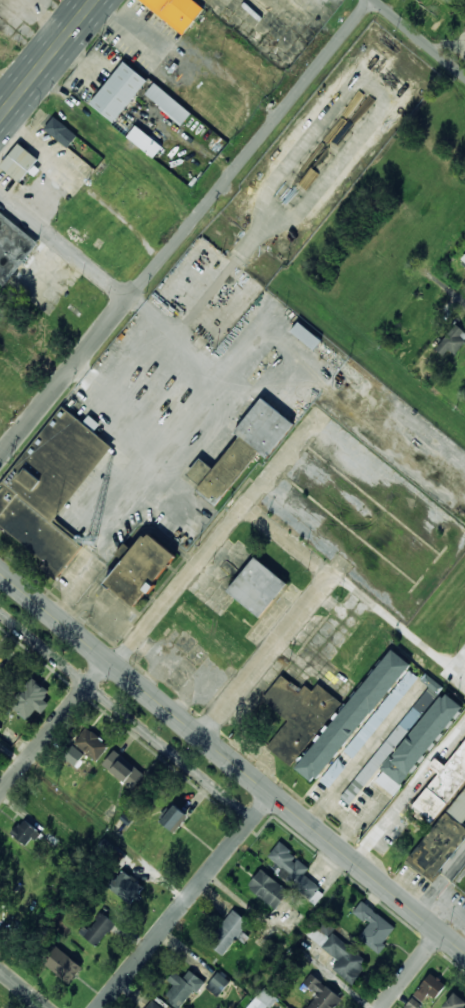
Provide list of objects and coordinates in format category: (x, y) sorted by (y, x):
building: (176, 11)
building: (464, 29)
road: (420, 37)
road: (47, 59)
building: (118, 91)
building: (168, 103)
building: (60, 132)
building: (144, 141)
building: (18, 162)
road: (185, 228)
road: (64, 246)
building: (13, 248)
building: (463, 260)
road: (452, 294)
building: (306, 335)
building: (452, 341)
building: (243, 450)
building: (51, 487)
road: (288, 540)
building: (139, 569)
building: (257, 587)
road: (121, 648)
road: (267, 656)
building: (0, 660)
building: (31, 700)
road: (125, 717)
building: (324, 718)
building: (369, 729)
building: (393, 741)
building: (418, 743)
building: (91, 744)
road: (364, 754)
road: (231, 760)
building: (123, 769)
building: (442, 787)
road: (408, 789)
road: (369, 807)
building: (459, 808)
building: (174, 818)
road: (353, 821)
building: (25, 832)
road: (105, 833)
building: (438, 846)
building: (295, 872)
road: (441, 881)
road: (413, 886)
building: (126, 887)
building: (268, 889)
road: (187, 901)
building: (1, 904)
building: (373, 927)
building: (98, 928)
building: (229, 933)
building: (4, 938)
road: (290, 941)
building: (338, 950)
building: (63, 964)
road: (412, 969)
building: (218, 983)
building: (429, 987)
road: (23, 988)
building: (182, 988)
building: (321, 994)
building: (263, 1000)
building: (454, 1002)
building: (413, 1004)
building: (153, 1005)

